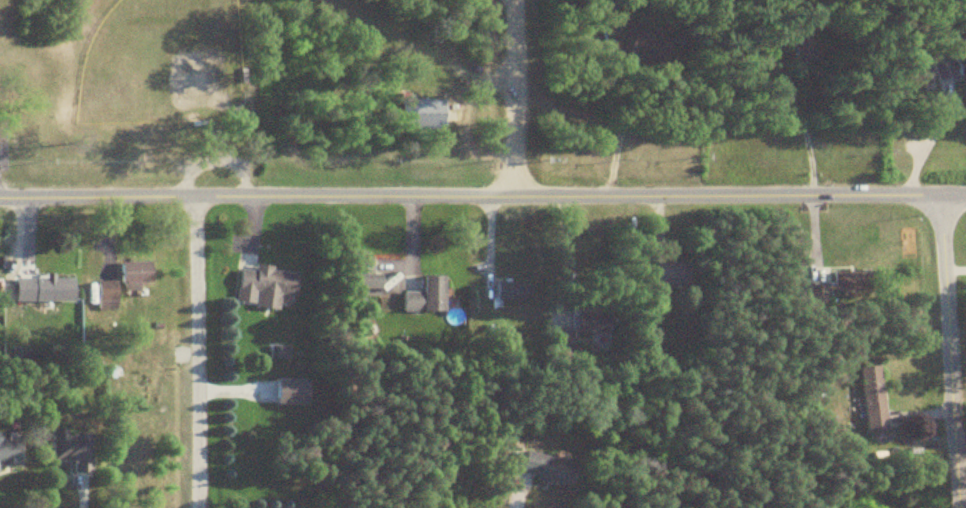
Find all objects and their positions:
building: (655, 45)
building: (800, 48)
building: (950, 62)
road: (514, 96)
road: (483, 193)
building: (672, 272)
building: (134, 273)
building: (367, 277)
building: (264, 285)
building: (843, 285)
building: (42, 288)
building: (510, 290)
building: (426, 294)
road: (195, 347)
road: (949, 350)
building: (873, 398)
building: (71, 448)
building: (9, 452)
building: (546, 468)
road: (266, 503)

